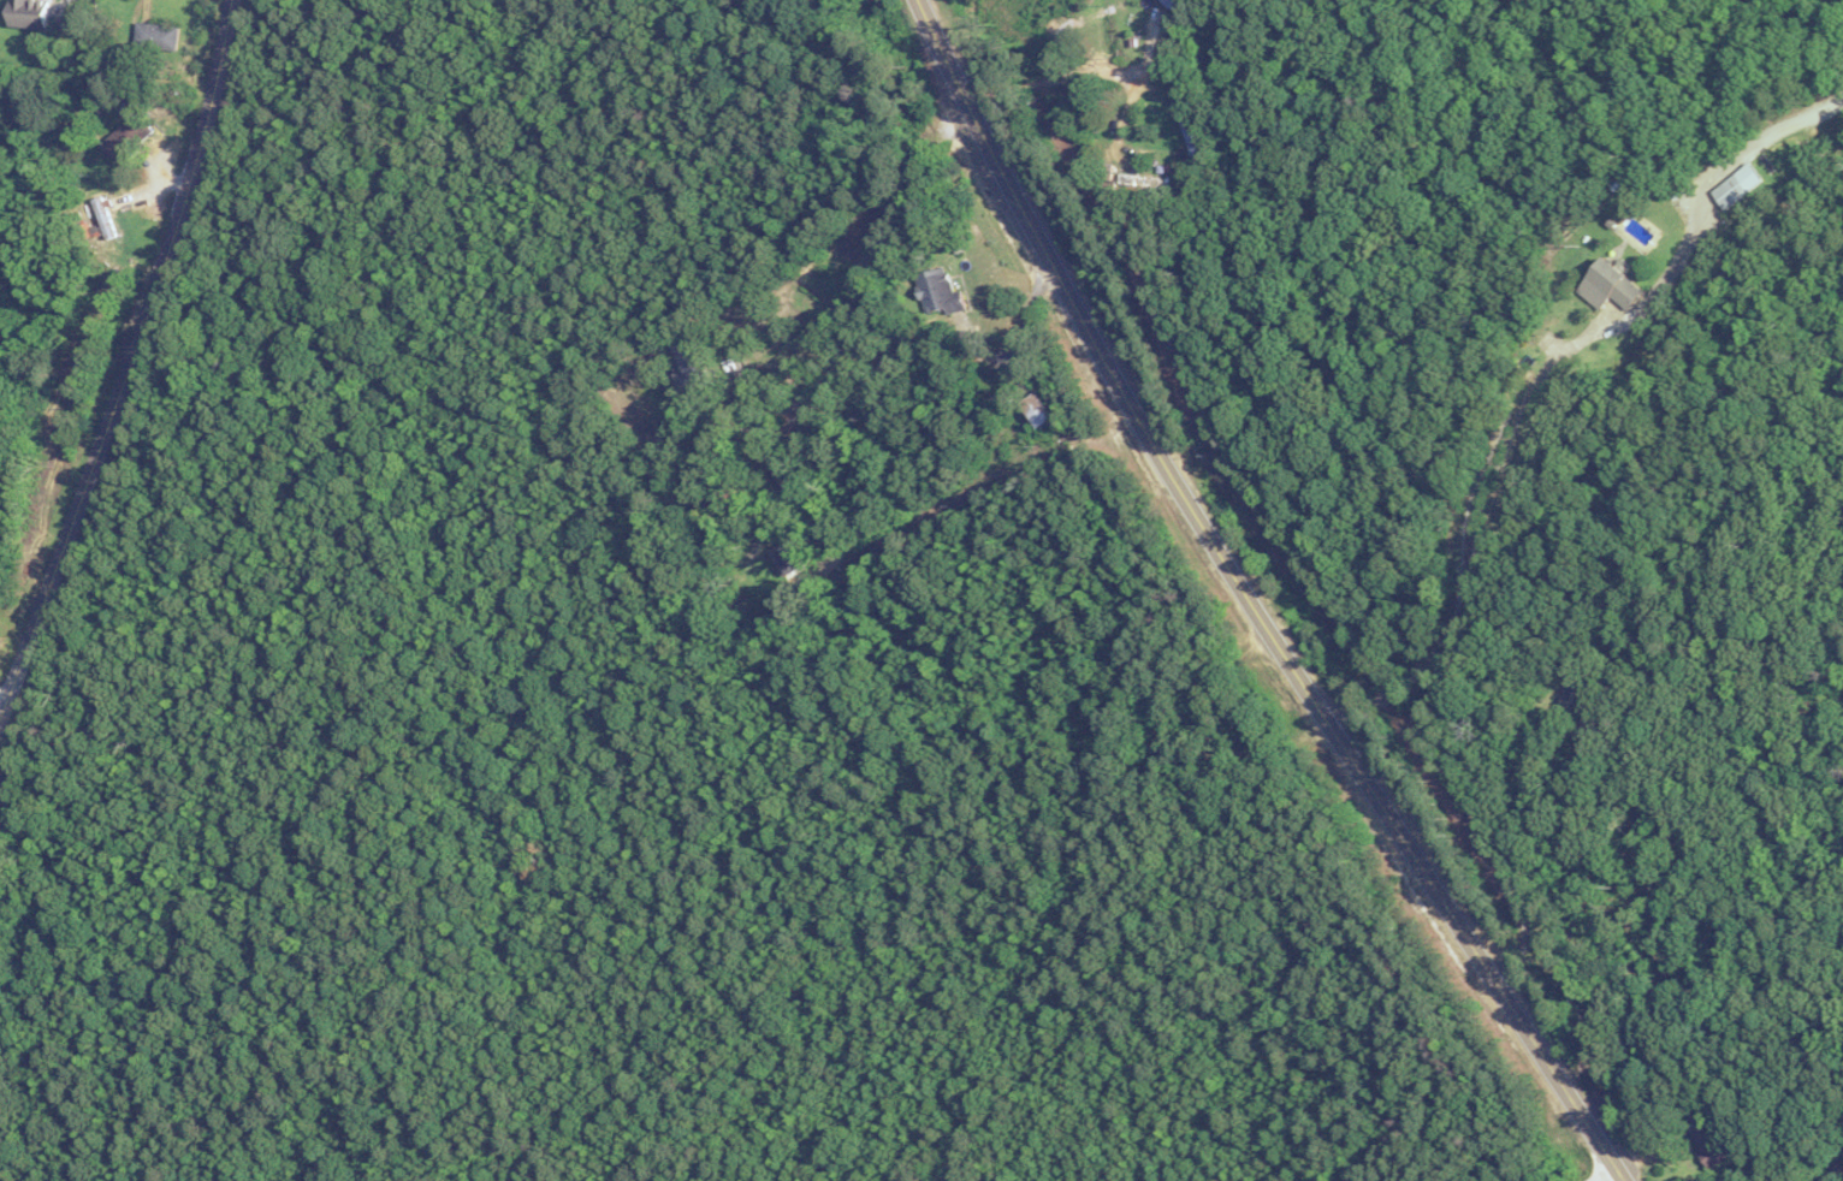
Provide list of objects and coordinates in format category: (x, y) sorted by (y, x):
building: (1171, 2)
building: (25, 13)
building: (155, 35)
road: (1053, 75)
road: (1140, 81)
building: (1190, 131)
building: (126, 136)
building: (1145, 180)
building: (1729, 191)
building: (103, 216)
building: (1608, 285)
building: (938, 291)
road: (128, 358)
building: (688, 364)
road: (1536, 379)
building: (1035, 410)
road: (978, 487)
building: (786, 558)
road: (1249, 601)
road: (0, 706)
building: (1706, 1141)
road: (1604, 1176)

